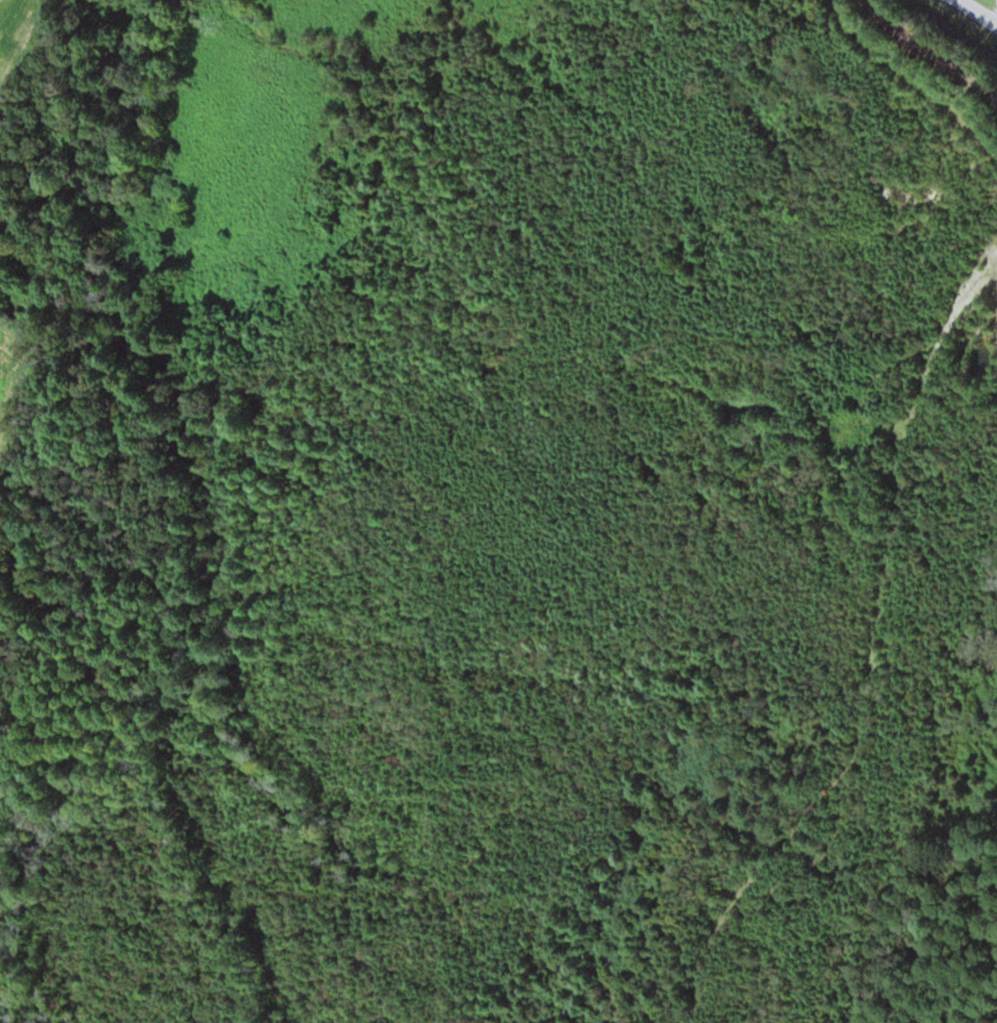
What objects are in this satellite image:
road: (979, 11)
road: (995, 18)

